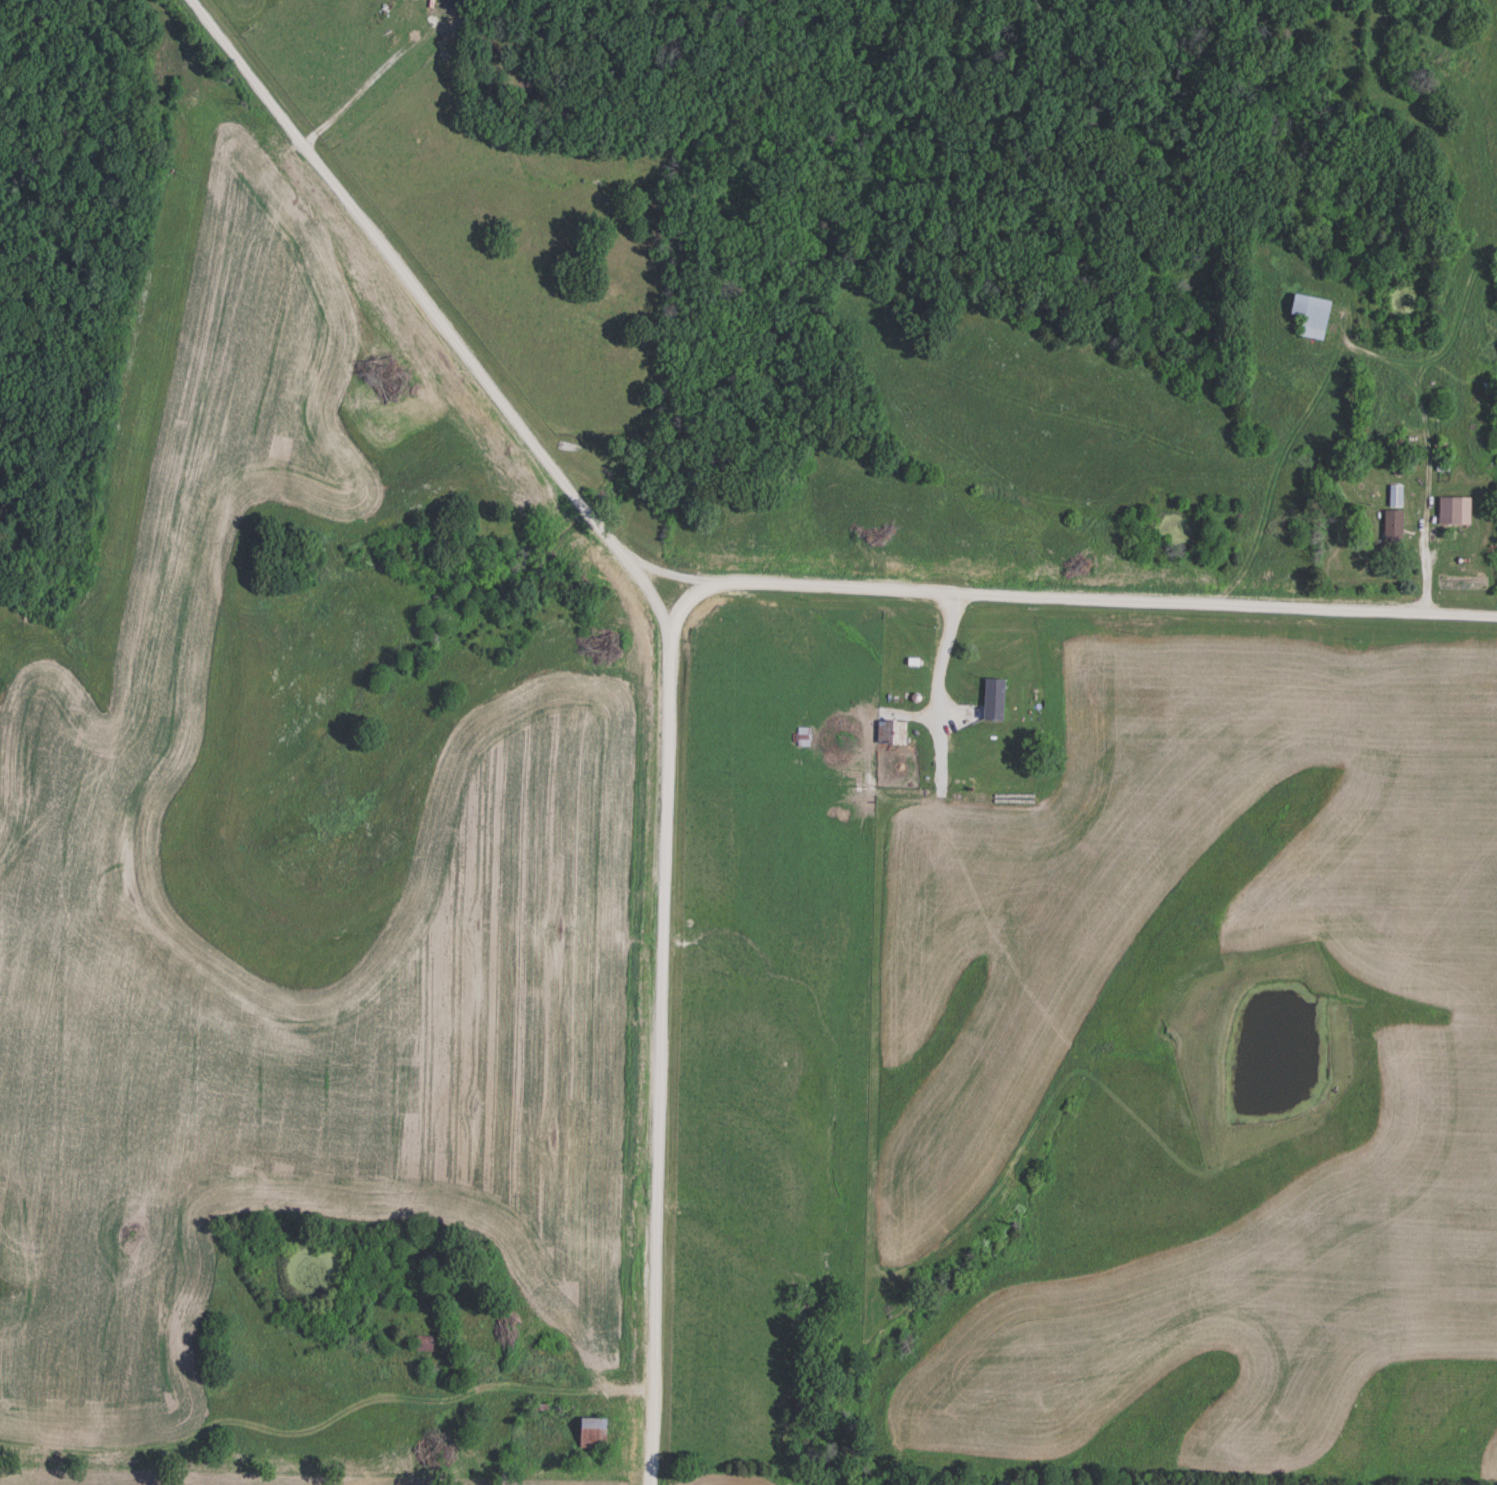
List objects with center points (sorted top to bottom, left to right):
building: (1314, 316)
building: (1396, 496)
building: (1455, 511)
park: (1496, 520)
building: (1394, 527)
road: (1060, 598)
road: (684, 601)
road: (669, 661)
building: (1008, 694)
building: (892, 733)
building: (993, 734)
building: (425, 1342)
building: (597, 1433)

